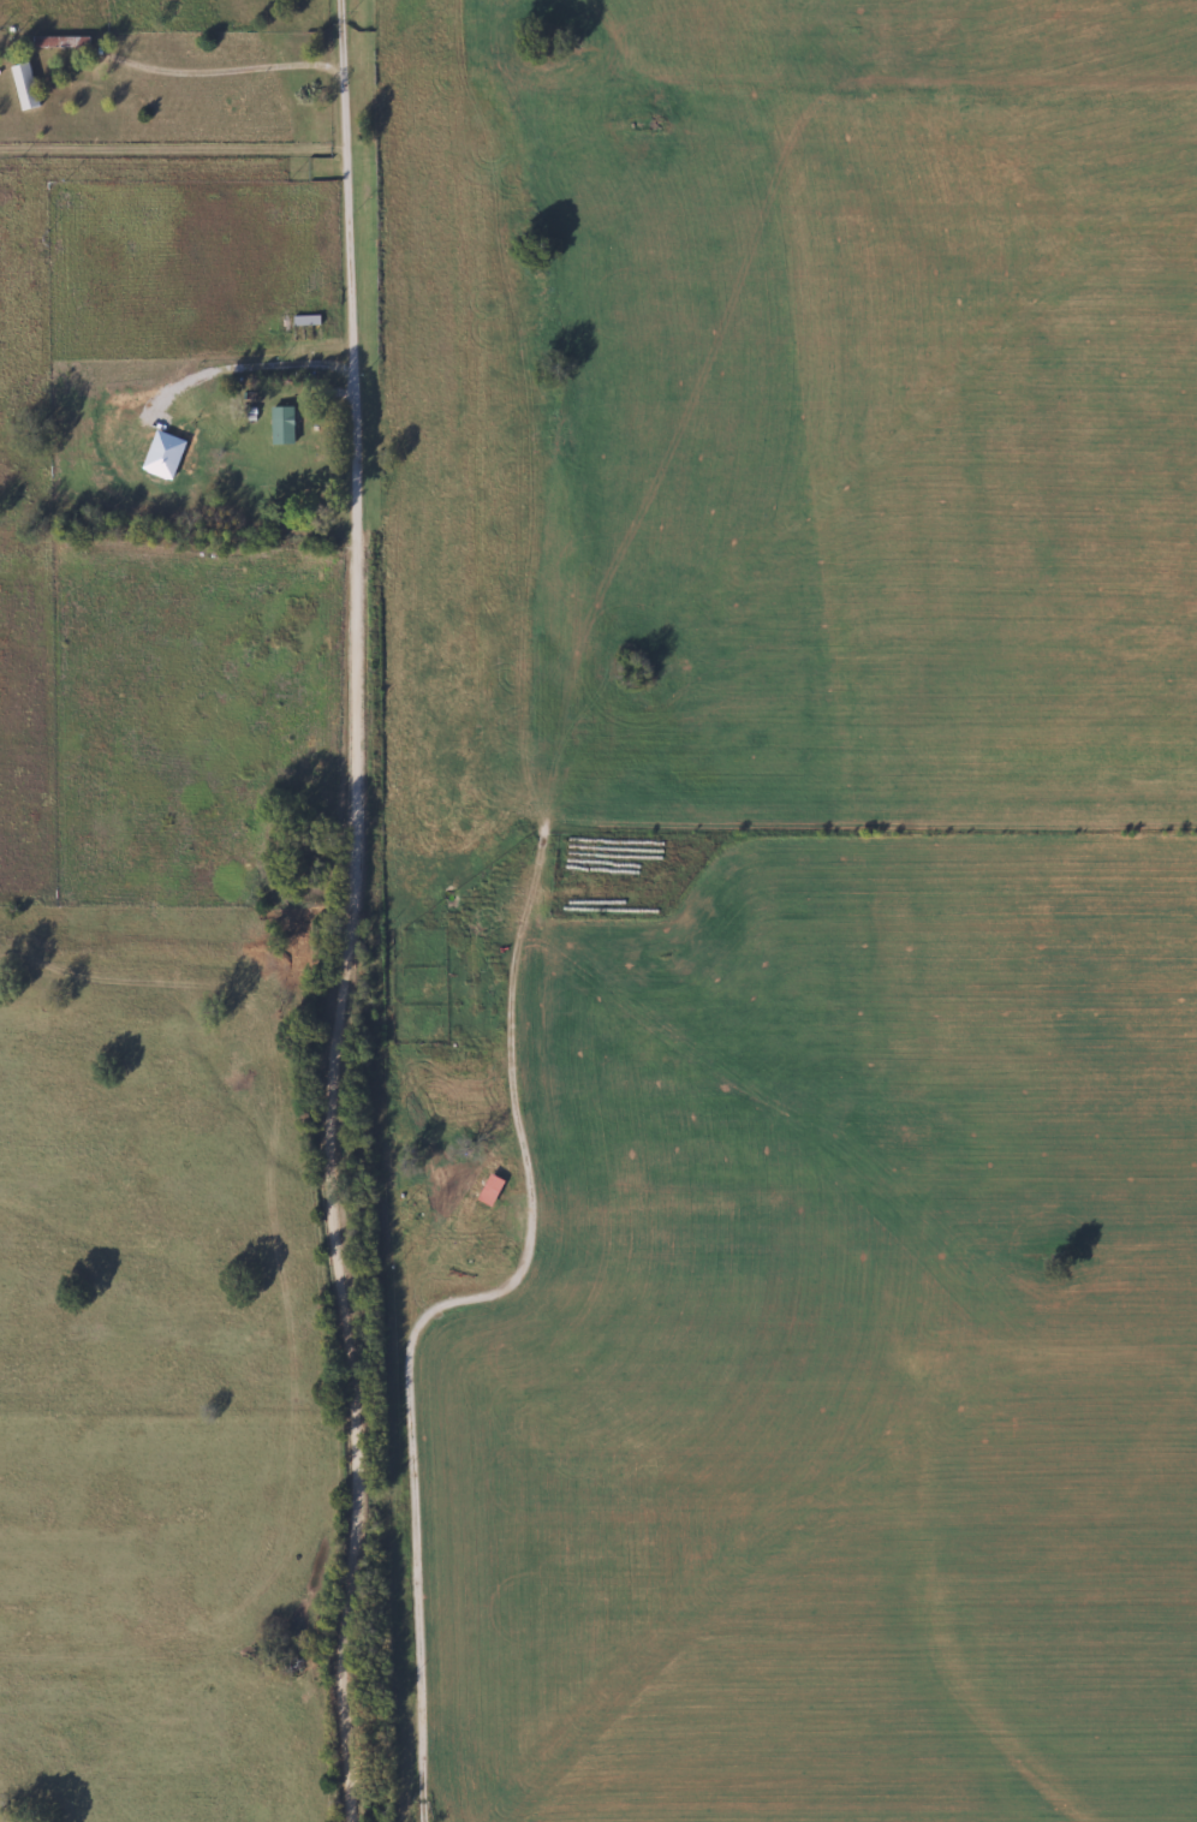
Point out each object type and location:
building: (65, 41)
building: (28, 85)
building: (309, 318)
building: (285, 424)
road: (358, 913)
building: (472, 1195)
road: (415, 1430)

